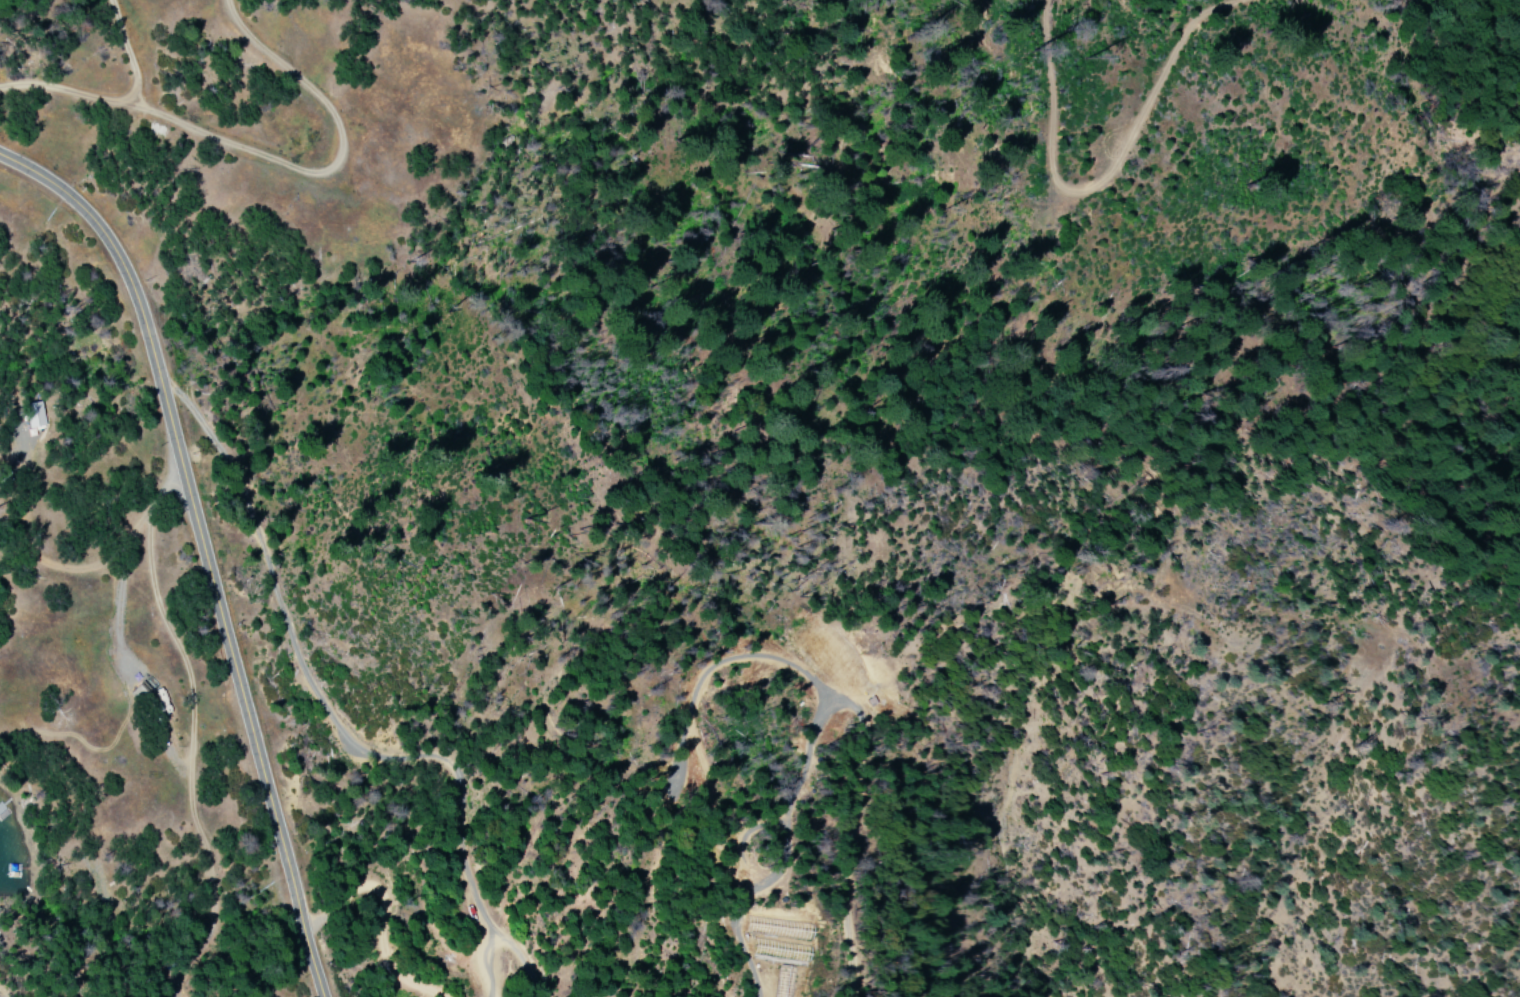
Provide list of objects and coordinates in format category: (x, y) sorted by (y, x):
road: (129, 104)
road: (266, 533)
road: (188, 577)

